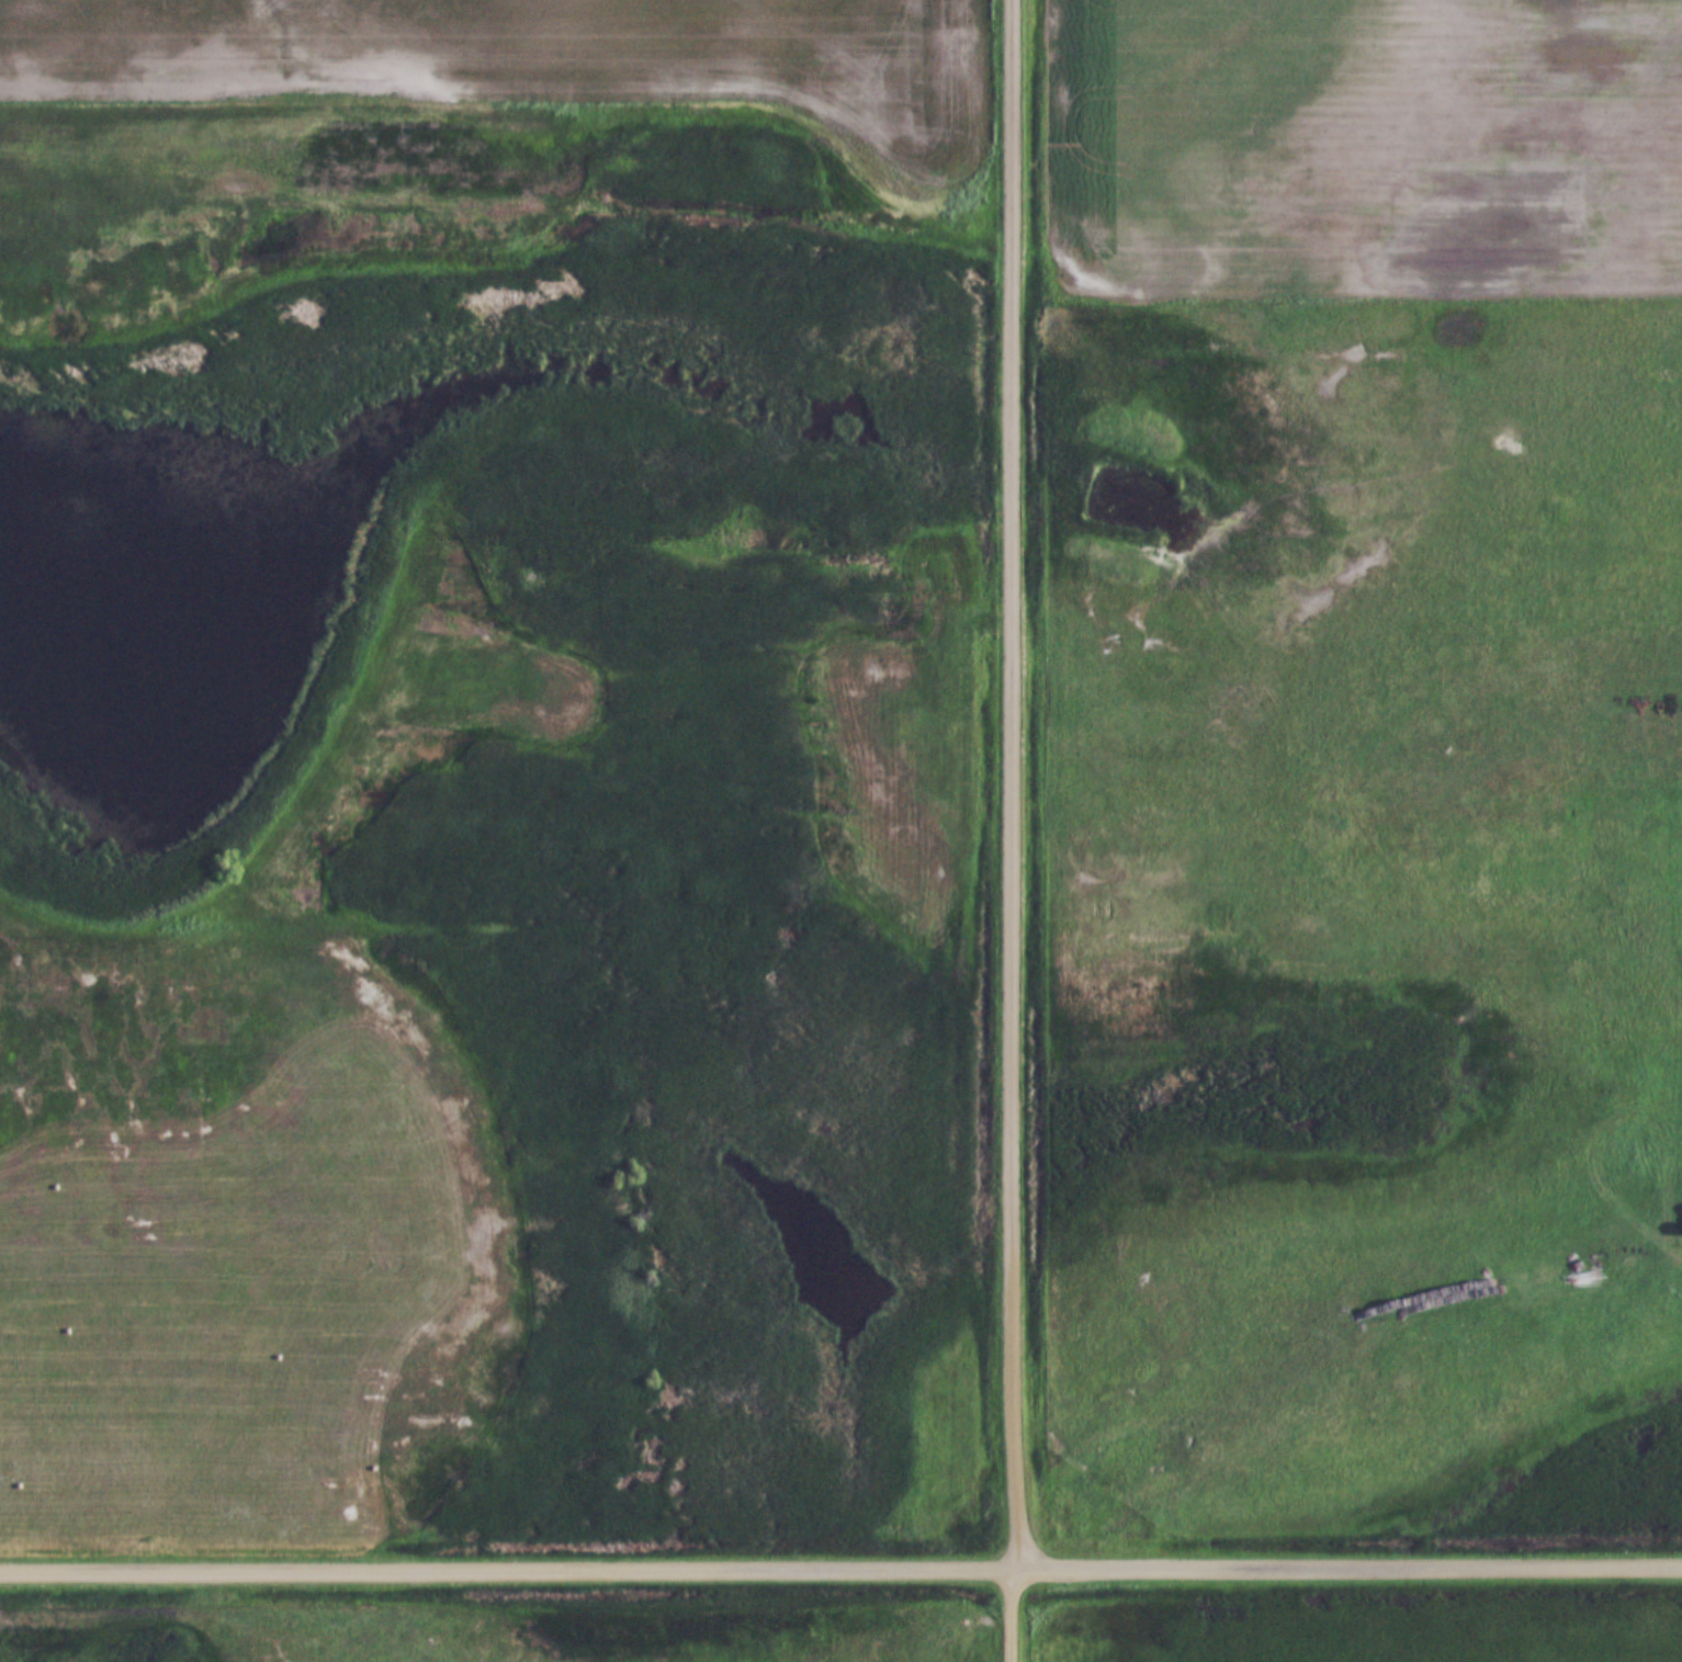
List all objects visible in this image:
road: (1007, 783)
road: (840, 1568)
road: (1008, 1614)

